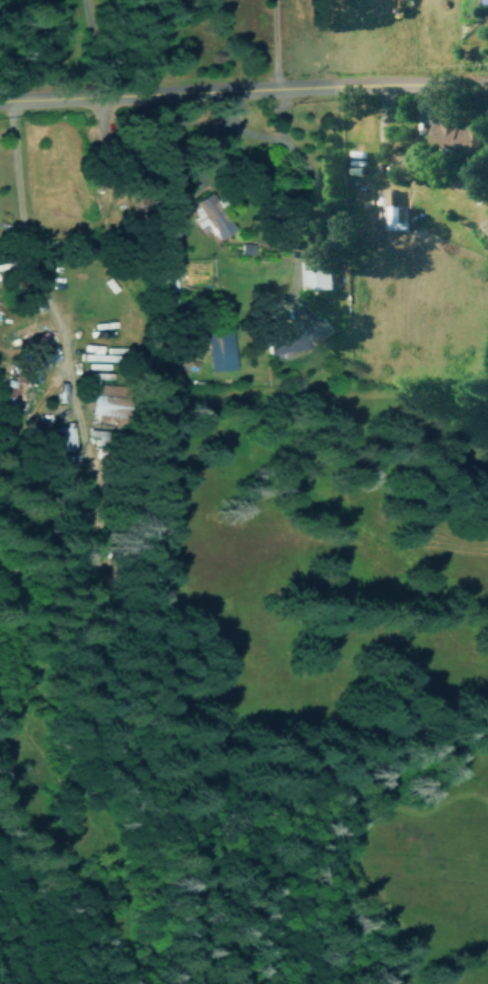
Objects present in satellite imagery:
road: (271, 42)
road: (68, 49)
road: (243, 83)
building: (452, 134)
building: (393, 210)
building: (211, 215)
building: (314, 273)
building: (293, 335)
building: (219, 352)
building: (107, 404)
building: (64, 437)
crop: (330, 536)

